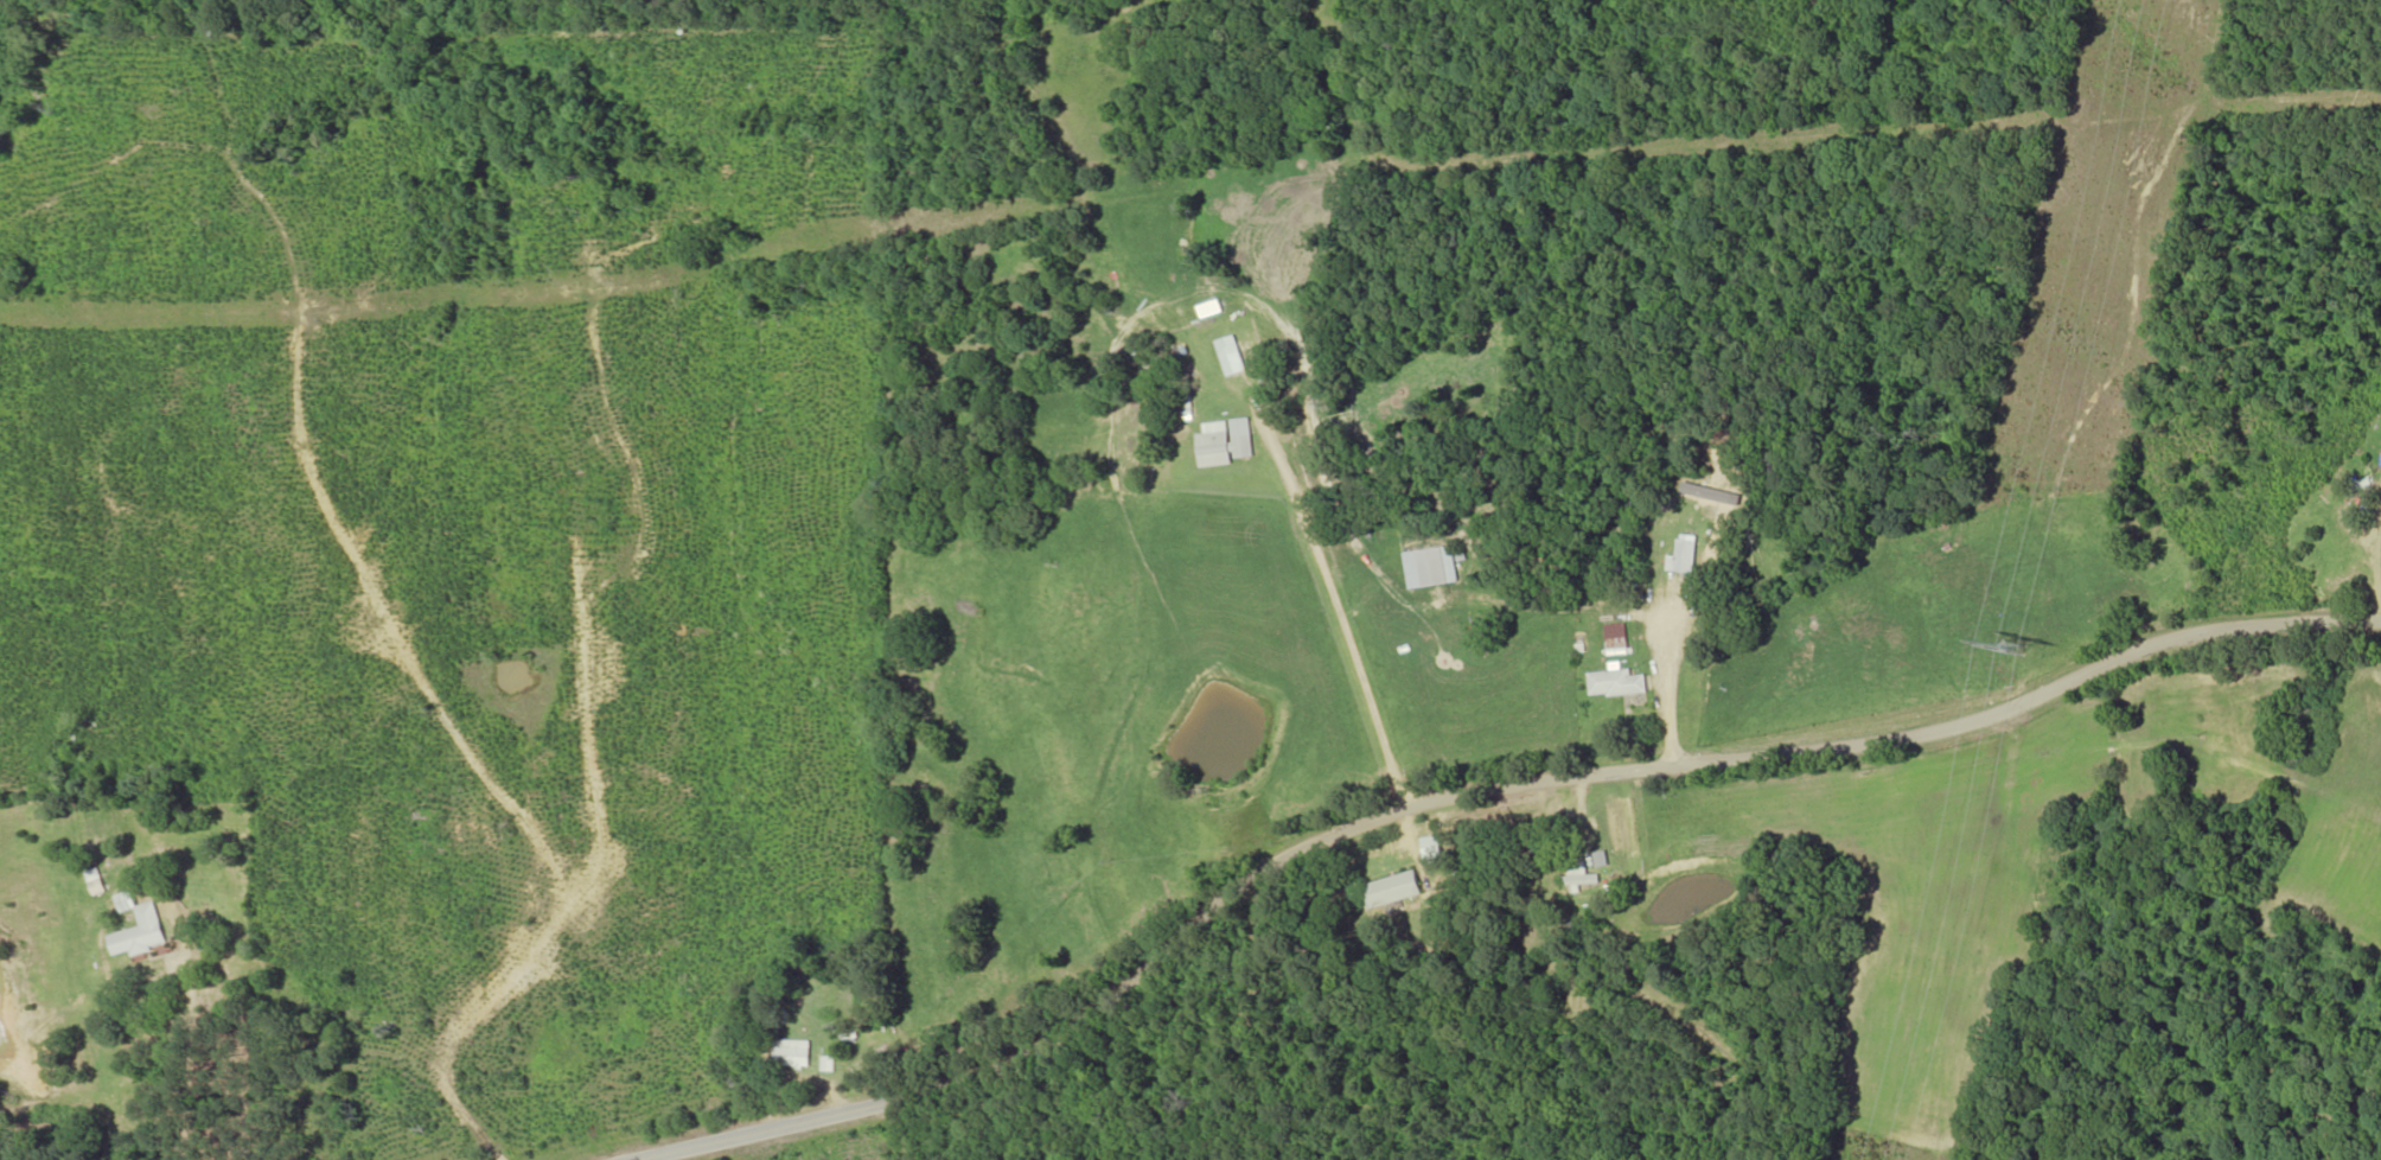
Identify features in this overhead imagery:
building: (1230, 355)
building: (1685, 556)
building: (1431, 566)
building: (1616, 638)
power tower: (2031, 642)
building: (1616, 682)
road: (1620, 776)
building: (1432, 847)
building: (1602, 858)
building: (1393, 888)
building: (140, 928)
road: (181, 1045)
building: (793, 1052)
road: (778, 1126)

